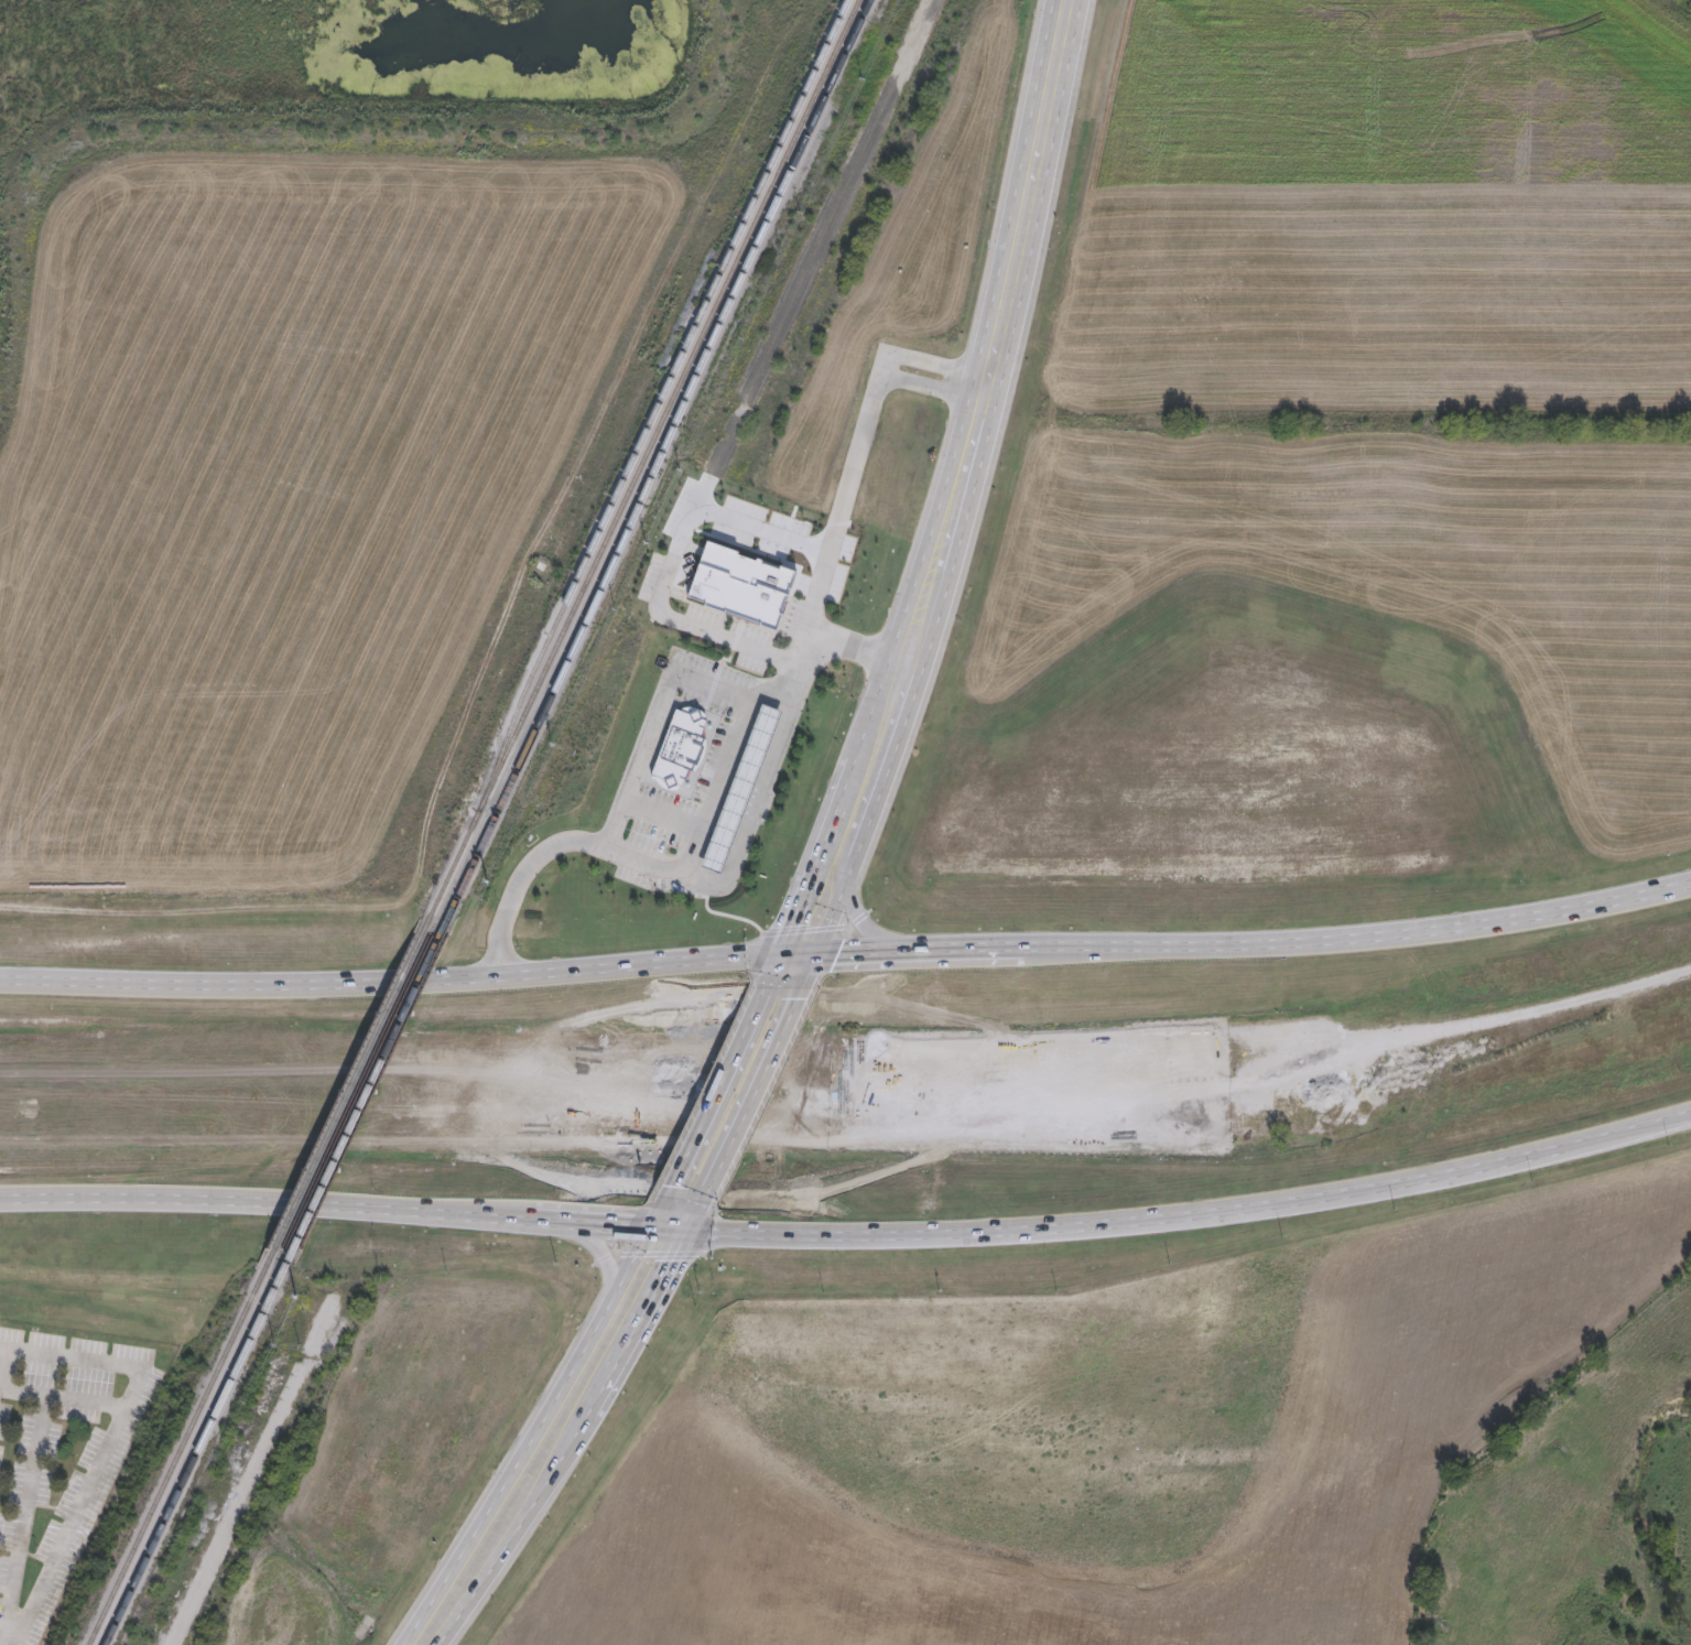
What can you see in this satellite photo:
road: (1028, 187)
road: (926, 360)
railway: (675, 366)
road: (932, 389)
road: (988, 389)
crop: (1352, 462)
railway: (639, 466)
railway: (654, 466)
crop: (283, 523)
road: (737, 524)
road: (949, 531)
road: (833, 554)
building: (742, 582)
road: (708, 629)
road: (792, 678)
road: (890, 722)
road: (654, 723)
building: (679, 746)
road: (727, 762)
building: (744, 789)
gas station: (744, 789)
road: (755, 805)
road: (665, 812)
road: (853, 822)
road: (668, 868)
road: (522, 878)
road: (816, 906)
road: (724, 915)
road: (857, 918)
road: (817, 929)
road: (846, 949)
traffic signals: (798, 951)
road: (798, 1074)
road: (718, 1084)
railway: (348, 1092)
railway: (366, 1093)
road: (751, 1099)
road: (676, 1115)
traffic signals: (671, 1232)
road: (850, 1238)
road: (606, 1264)
road: (647, 1278)
road: (63, 1399)
crop: (1108, 1441)
road: (110, 1442)
railway: (180, 1448)
railway: (199, 1448)
road: (524, 1487)
road: (24, 1516)

